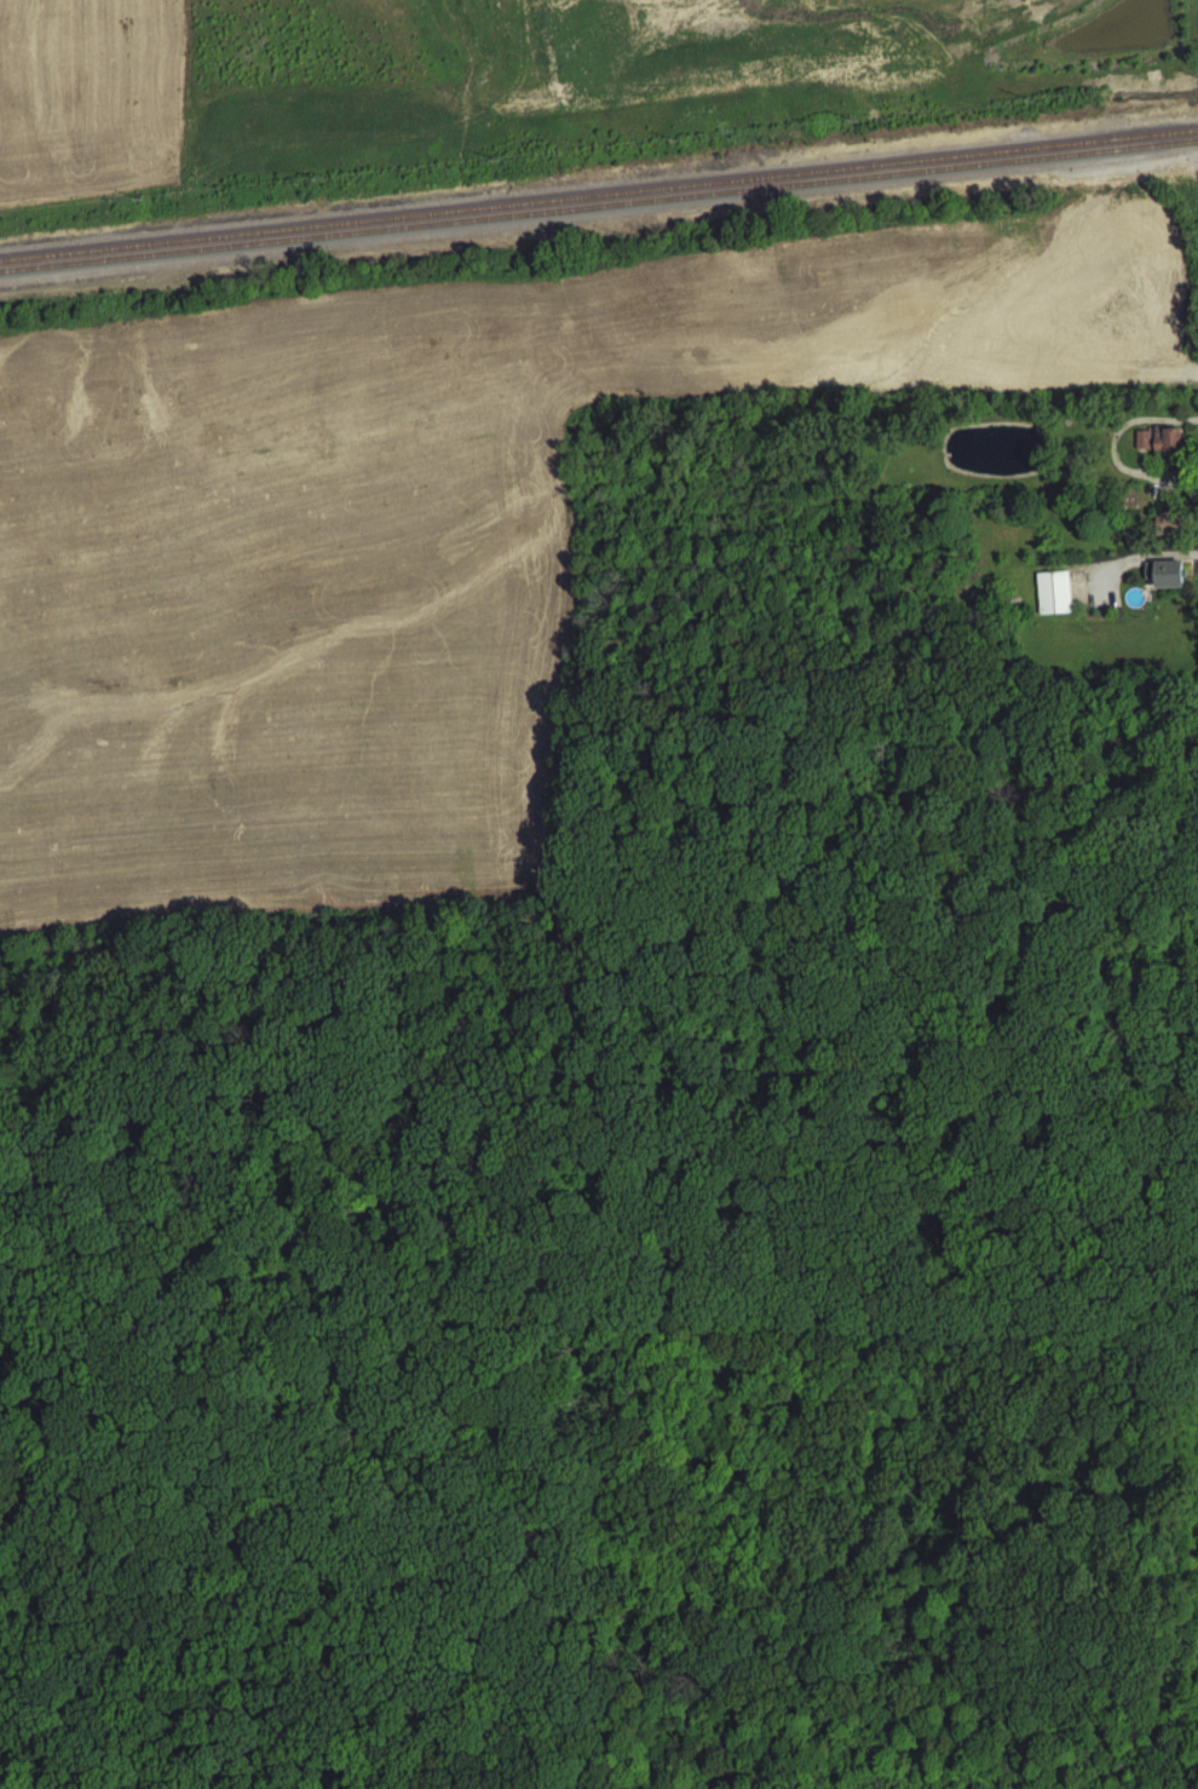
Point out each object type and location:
railway: (599, 201)
railway: (599, 212)
road: (1176, 378)
building: (1160, 447)
road: (1110, 458)
road: (1141, 468)
building: (1167, 530)
road: (1187, 564)
road: (1130, 565)
road: (1188, 574)
building: (1163, 580)
road: (1146, 591)
road: (1146, 598)
building: (1052, 599)
road: (807, 1258)
road: (168, 1369)
road: (13, 1397)
road: (31, 1450)
road: (353, 1462)
road: (897, 1507)
road: (588, 1586)
road: (902, 1634)
road: (179, 1670)

